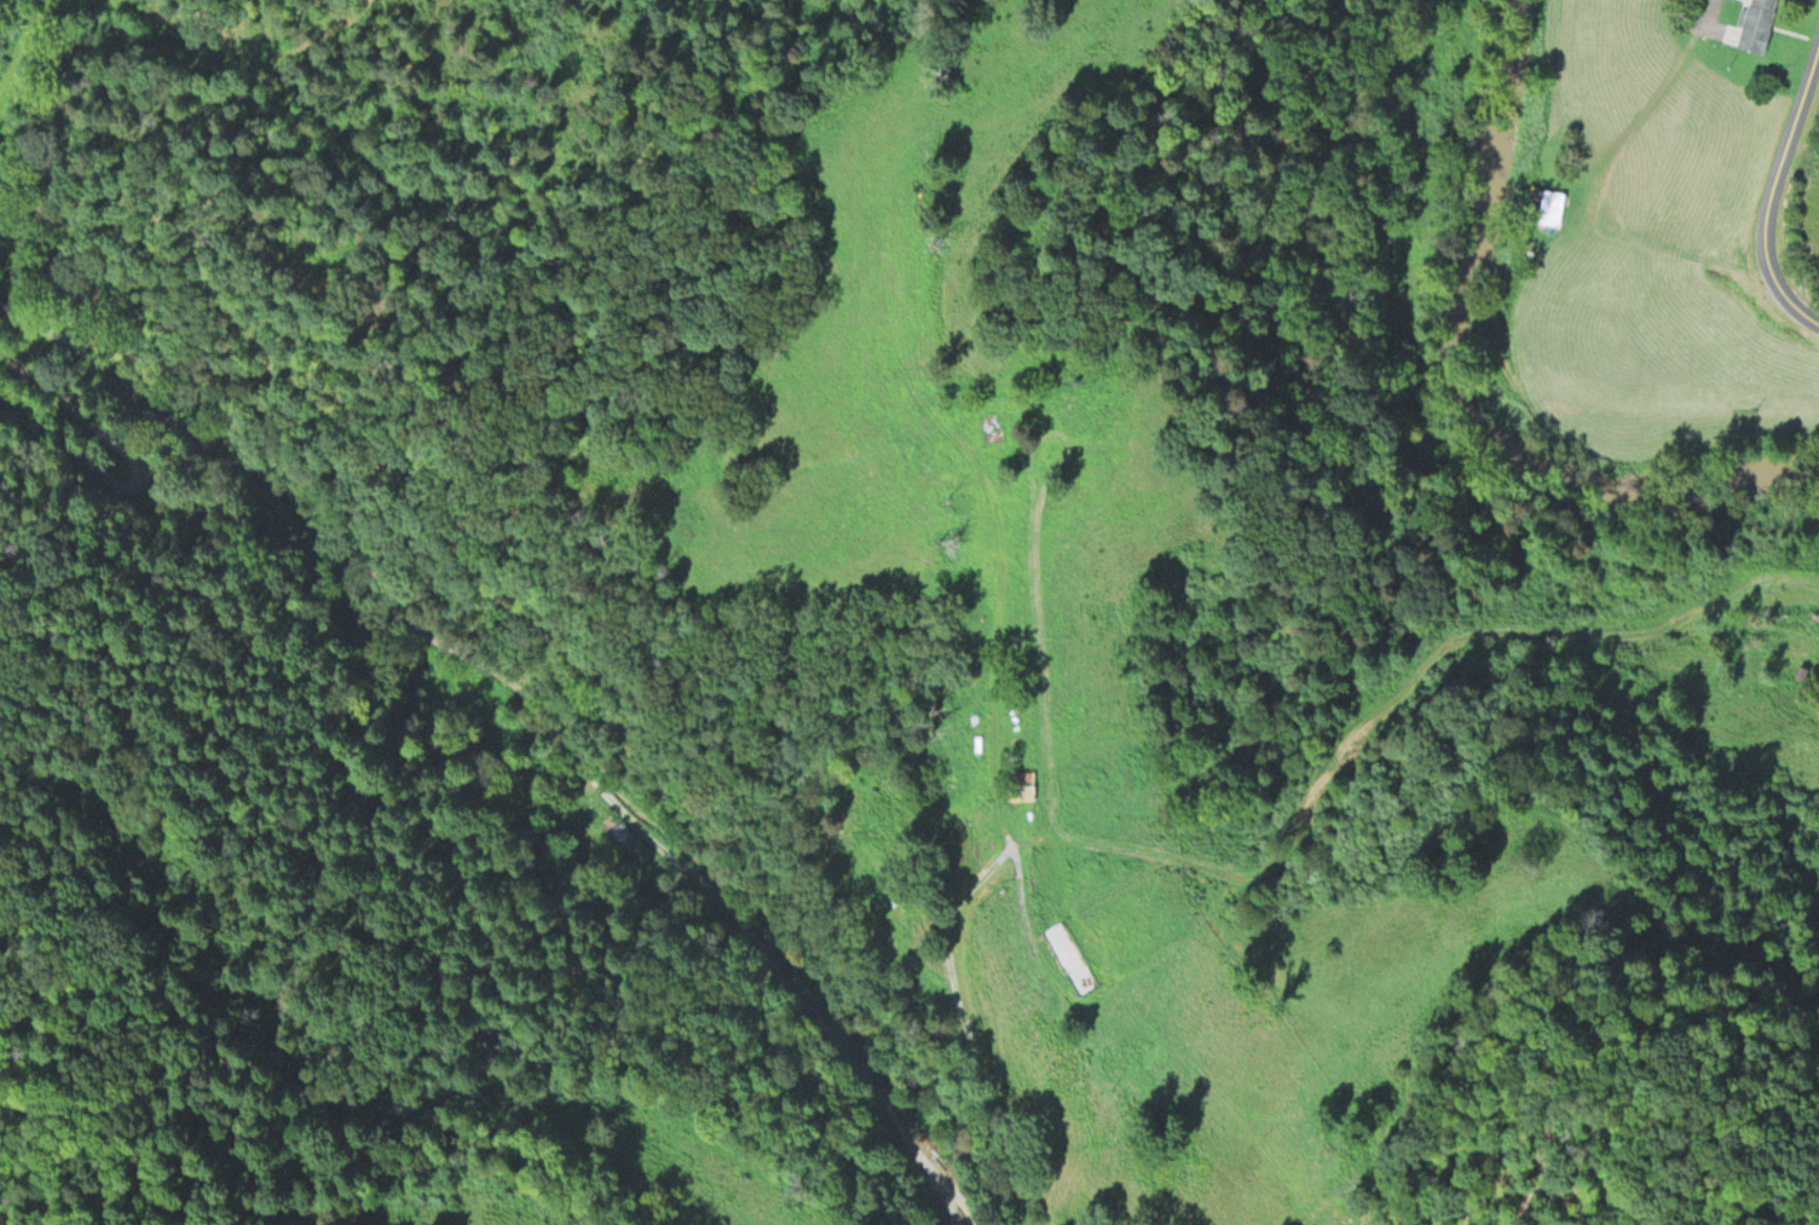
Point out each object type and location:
road: (1710, 11)
building: (1757, 23)
road: (1775, 189)
road: (1595, 196)
building: (1547, 208)
river: (1502, 372)
building: (987, 423)
road: (133, 466)
road: (995, 622)
road: (1394, 695)
road: (535, 705)
building: (1022, 782)
building: (631, 839)
park: (948, 843)
road: (965, 1022)
road: (964, 1198)

